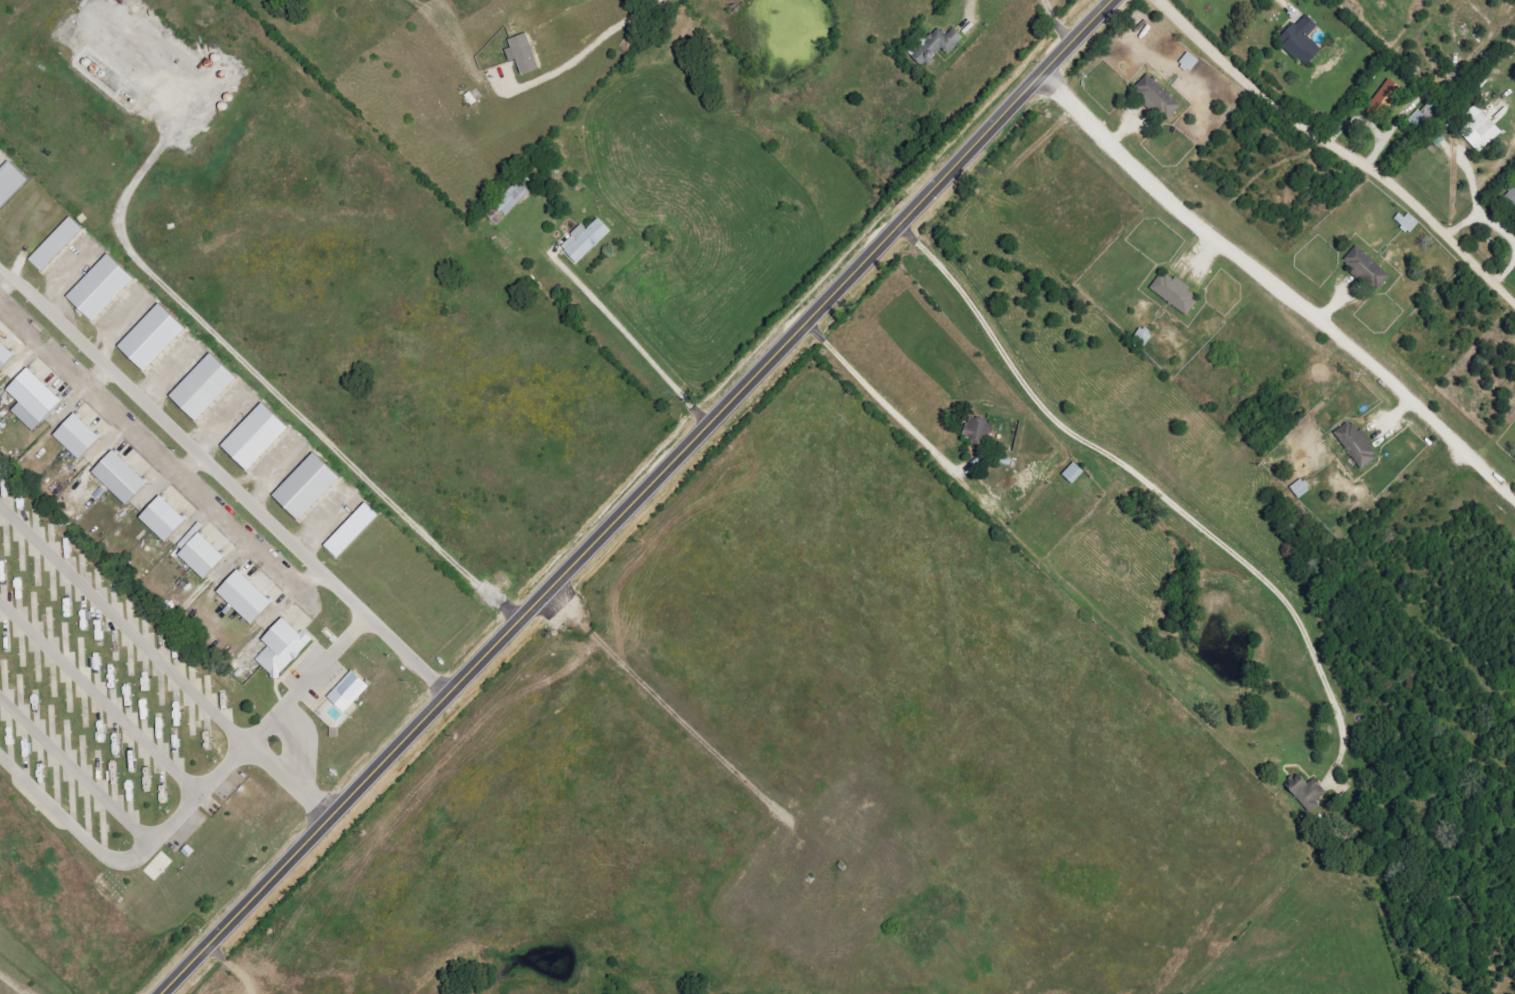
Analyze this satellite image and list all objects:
road: (967, 2)
road: (1062, 20)
building: (1299, 40)
building: (940, 44)
building: (527, 53)
building: (1187, 62)
building: (1155, 97)
building: (1383, 100)
building: (1424, 114)
building: (1476, 128)
road: (1337, 147)
building: (9, 181)
building: (1511, 197)
building: (506, 202)
building: (583, 240)
building: (53, 243)
building: (1364, 269)
road: (1281, 278)
building: (96, 287)
building: (1172, 292)
building: (148, 337)
building: (3, 355)
building: (200, 387)
road: (888, 394)
building: (29, 399)
building: (74, 436)
building: (251, 436)
building: (1354, 444)
building: (1071, 473)
road: (1147, 473)
building: (116, 477)
road: (223, 477)
building: (302, 486)
building: (1299, 488)
road: (634, 497)
building: (159, 518)
building: (348, 530)
building: (197, 551)
building: (241, 597)
building: (280, 647)
road: (162, 662)
building: (345, 692)
road: (99, 698)
road: (296, 742)
road: (74, 772)
building: (1306, 793)
road: (191, 799)

